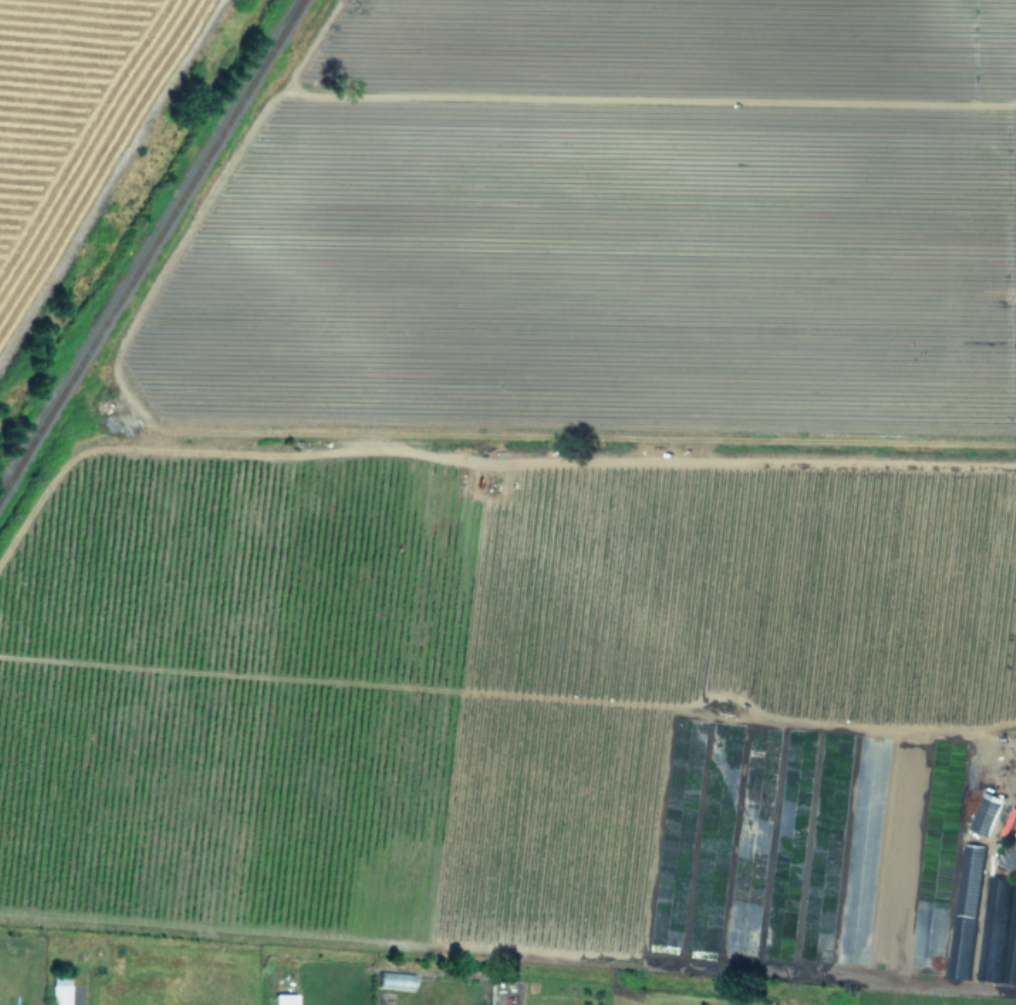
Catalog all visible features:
crop: (72, 116)
railway: (151, 248)
crop: (558, 541)
road: (1000, 808)
building: (1009, 857)
building: (59, 989)
building: (285, 1000)

